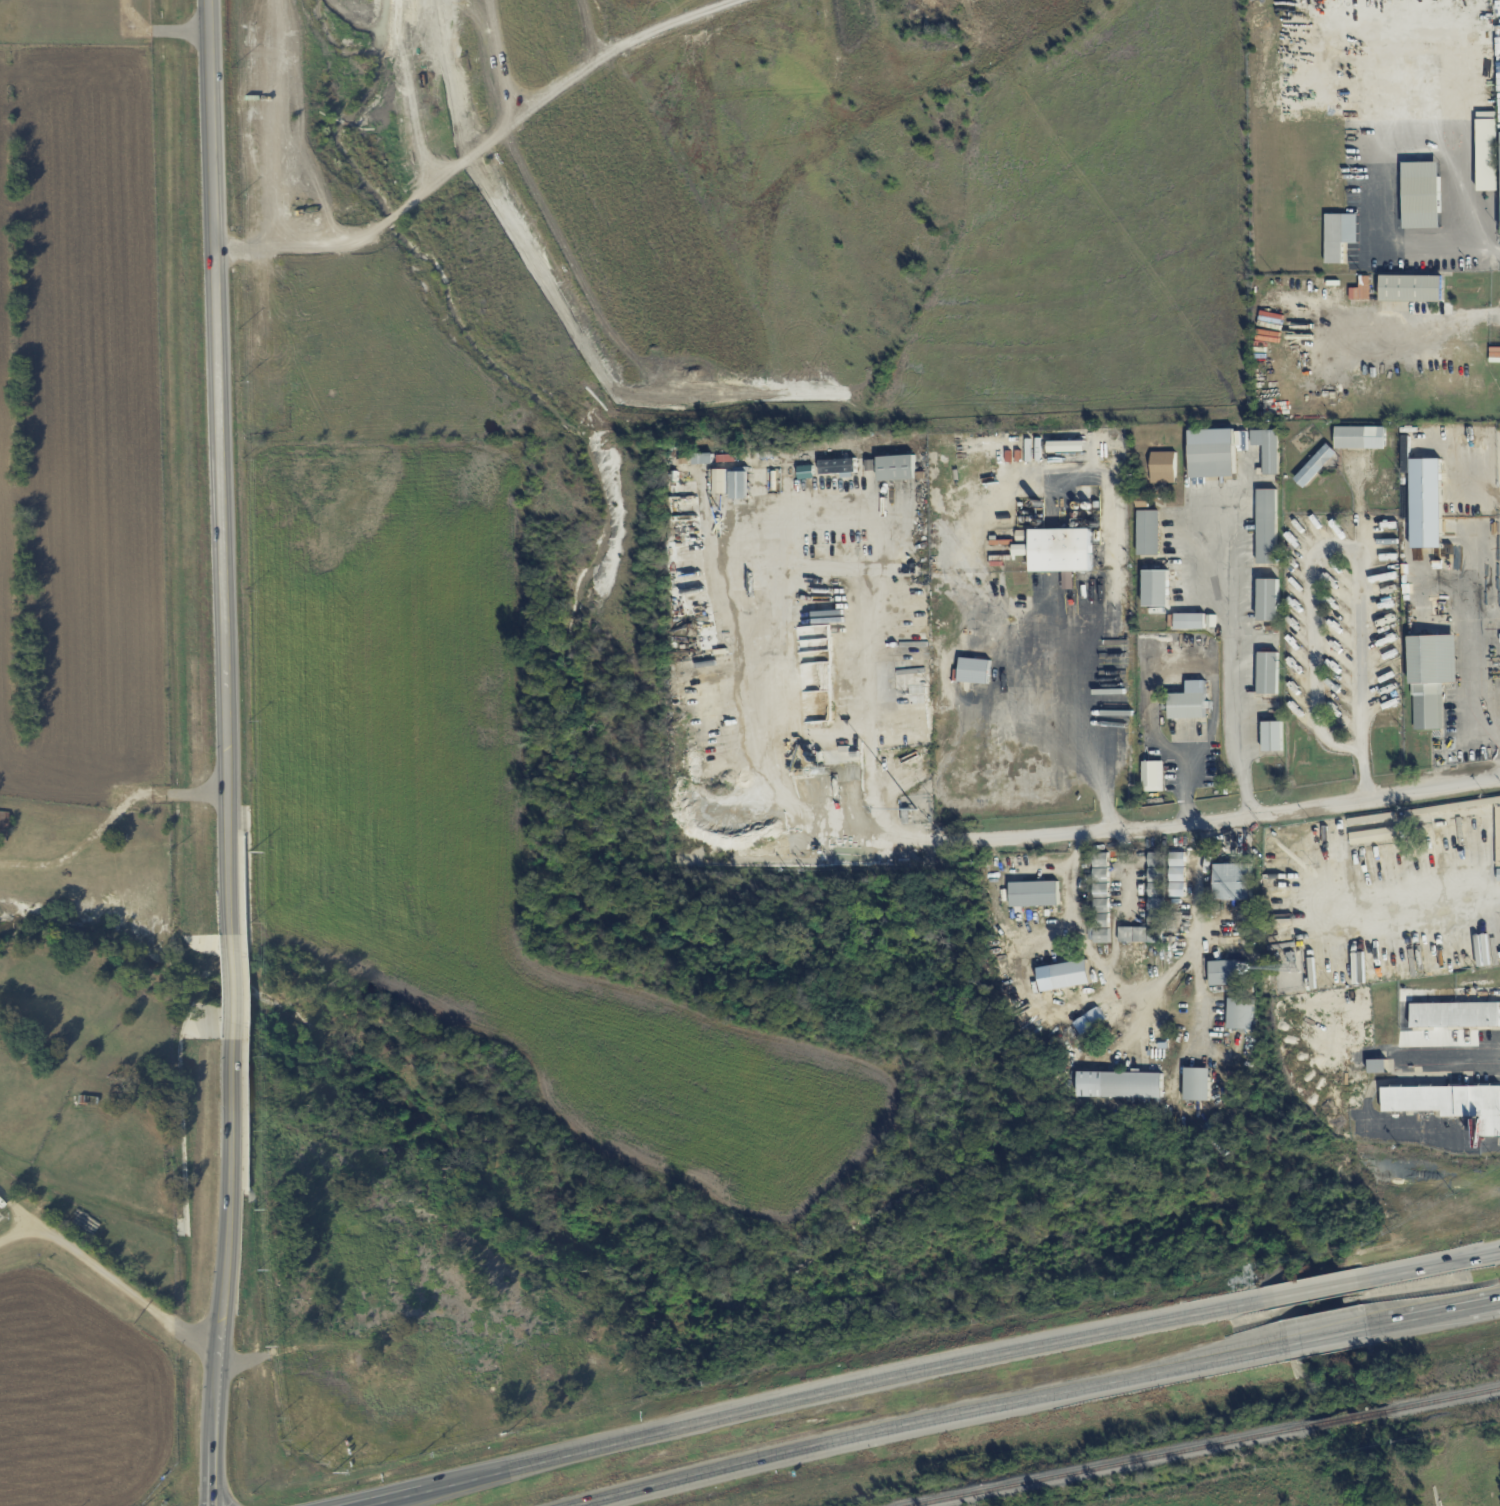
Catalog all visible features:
road: (1372, 90)
road: (480, 150)
building: (1487, 150)
building: (1421, 194)
building: (1339, 235)
road: (1486, 251)
building: (1411, 288)
building: (1360, 289)
road: (1490, 317)
road: (1496, 317)
road: (1436, 323)
building: (1361, 437)
building: (1268, 448)
building: (1212, 452)
building: (703, 458)
road: (221, 465)
building: (838, 465)
building: (1315, 465)
building: (897, 467)
building: (1163, 467)
building: (732, 482)
building: (1425, 502)
road: (1360, 504)
building: (1267, 526)
building: (1149, 532)
road: (1345, 546)
road: (781, 547)
building: (1022, 549)
building: (1062, 551)
building: (1156, 587)
building: (1269, 599)
building: (1190, 620)
road: (1469, 643)
road: (1234, 655)
building: (974, 670)
building: (1267, 672)
building: (1431, 677)
building: (1189, 701)
road: (1089, 705)
building: (1272, 736)
building: (1153, 775)
road: (1186, 777)
road: (1187, 812)
road: (1219, 820)
building: (1233, 881)
building: (1034, 893)
building: (1101, 897)
road: (1422, 902)
road: (1127, 904)
building: (1140, 934)
building: (1225, 972)
building: (1071, 973)
road: (229, 987)
road: (1142, 991)
building: (1240, 1013)
building: (1455, 1014)
building: (1377, 1065)
building: (1197, 1083)
building: (1120, 1084)
building: (1449, 1102)
road: (1431, 1138)
road: (16, 1210)
road: (16, 1233)
road: (1435, 1265)
road: (224, 1274)
road: (125, 1288)
road: (1316, 1288)
road: (1434, 1313)
road: (1327, 1335)
road: (808, 1399)
railway: (1443, 1399)
railway: (1350, 1418)
road: (934, 1421)
railway: (1115, 1466)

